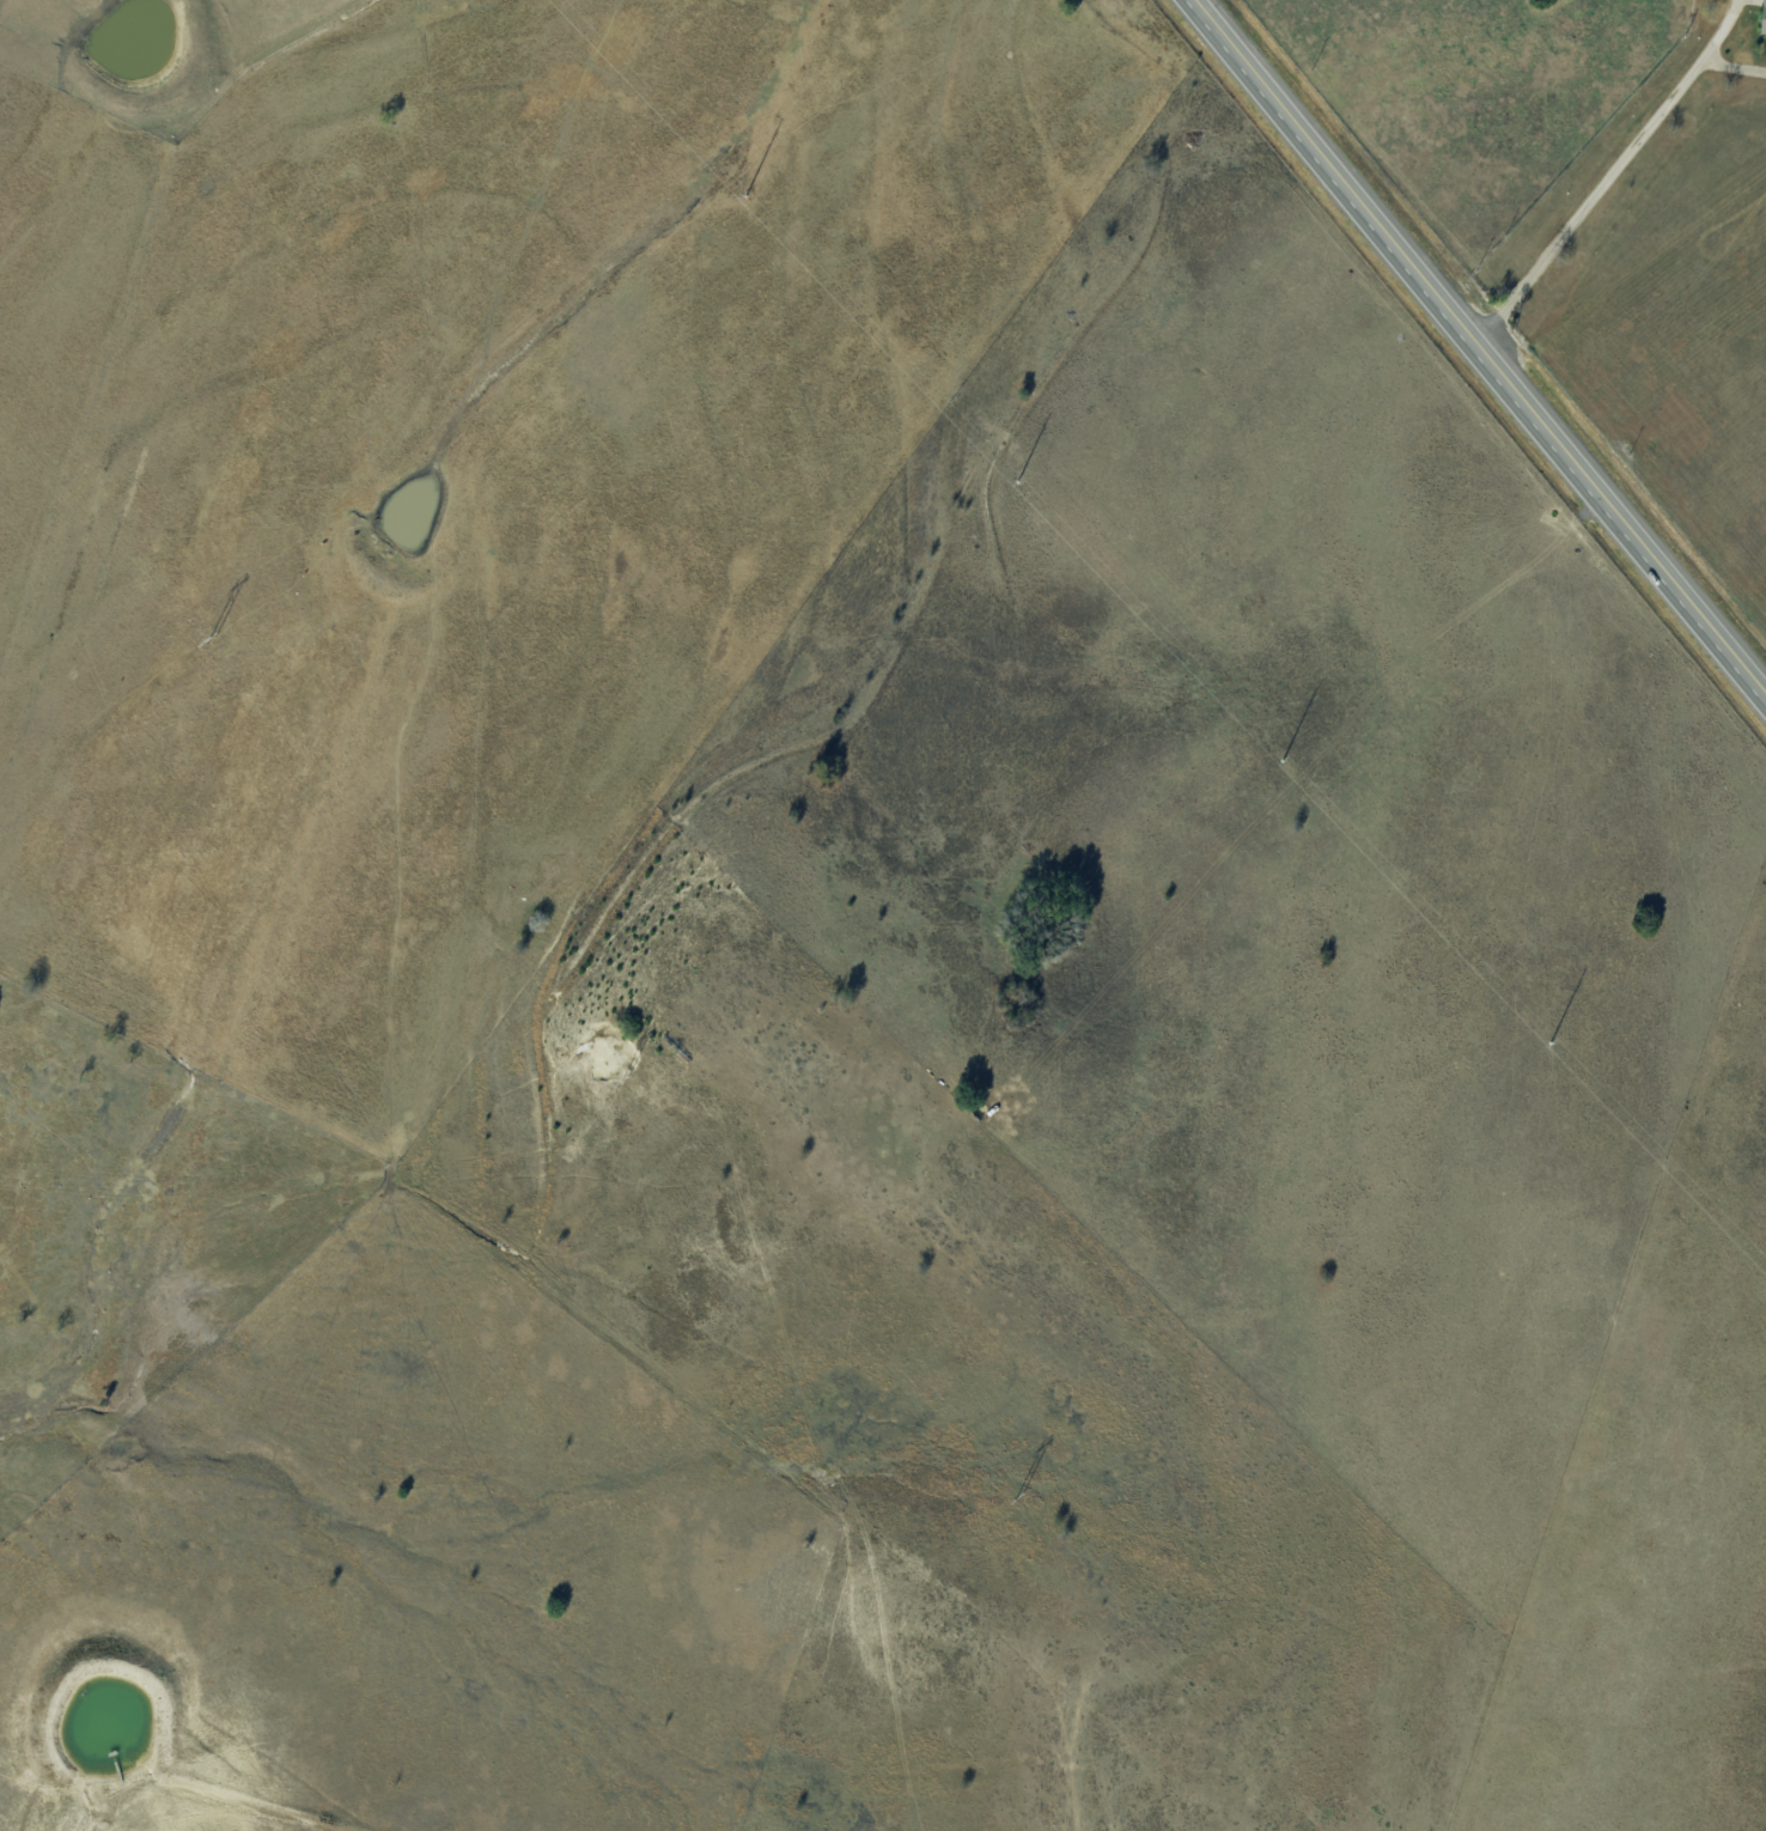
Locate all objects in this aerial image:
building: (1764, 19)
road: (1644, 189)
power tower: (744, 195)
road: (1485, 340)
power tower: (1016, 481)
power tower: (211, 640)
power tower: (1280, 760)
power tower: (1548, 1042)
power tower: (625, 1076)
power tower: (1018, 1496)

